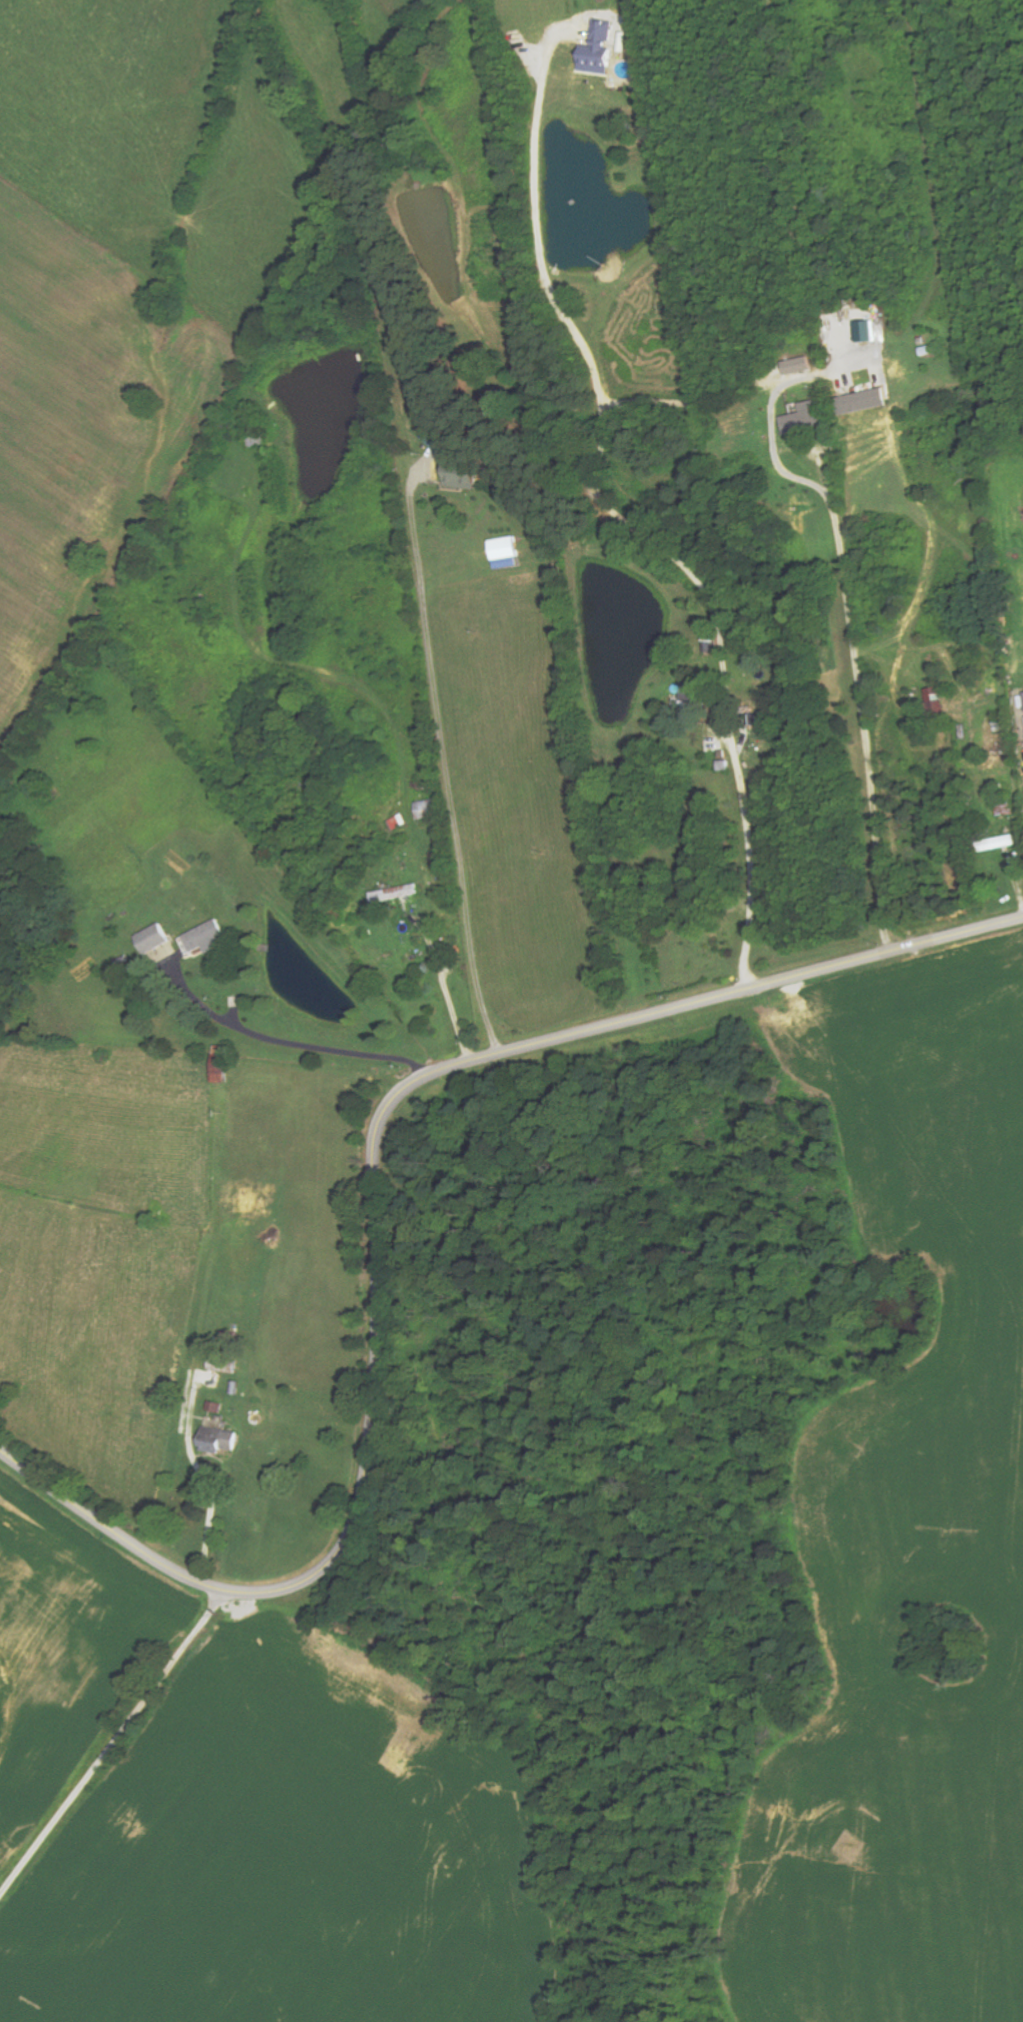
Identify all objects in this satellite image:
building: (599, 48)
building: (867, 330)
road: (595, 363)
building: (798, 365)
building: (864, 401)
building: (804, 418)
building: (438, 439)
building: (463, 476)
building: (507, 552)
building: (936, 697)
road: (859, 708)
road: (445, 761)
building: (998, 843)
road: (749, 868)
building: (397, 894)
building: (207, 937)
building: (153, 938)
road: (446, 991)
road: (290, 1043)
building: (221, 1064)
road: (375, 1196)
building: (224, 1365)
building: (217, 1406)
building: (221, 1440)
road: (207, 1480)
road: (112, 1745)

